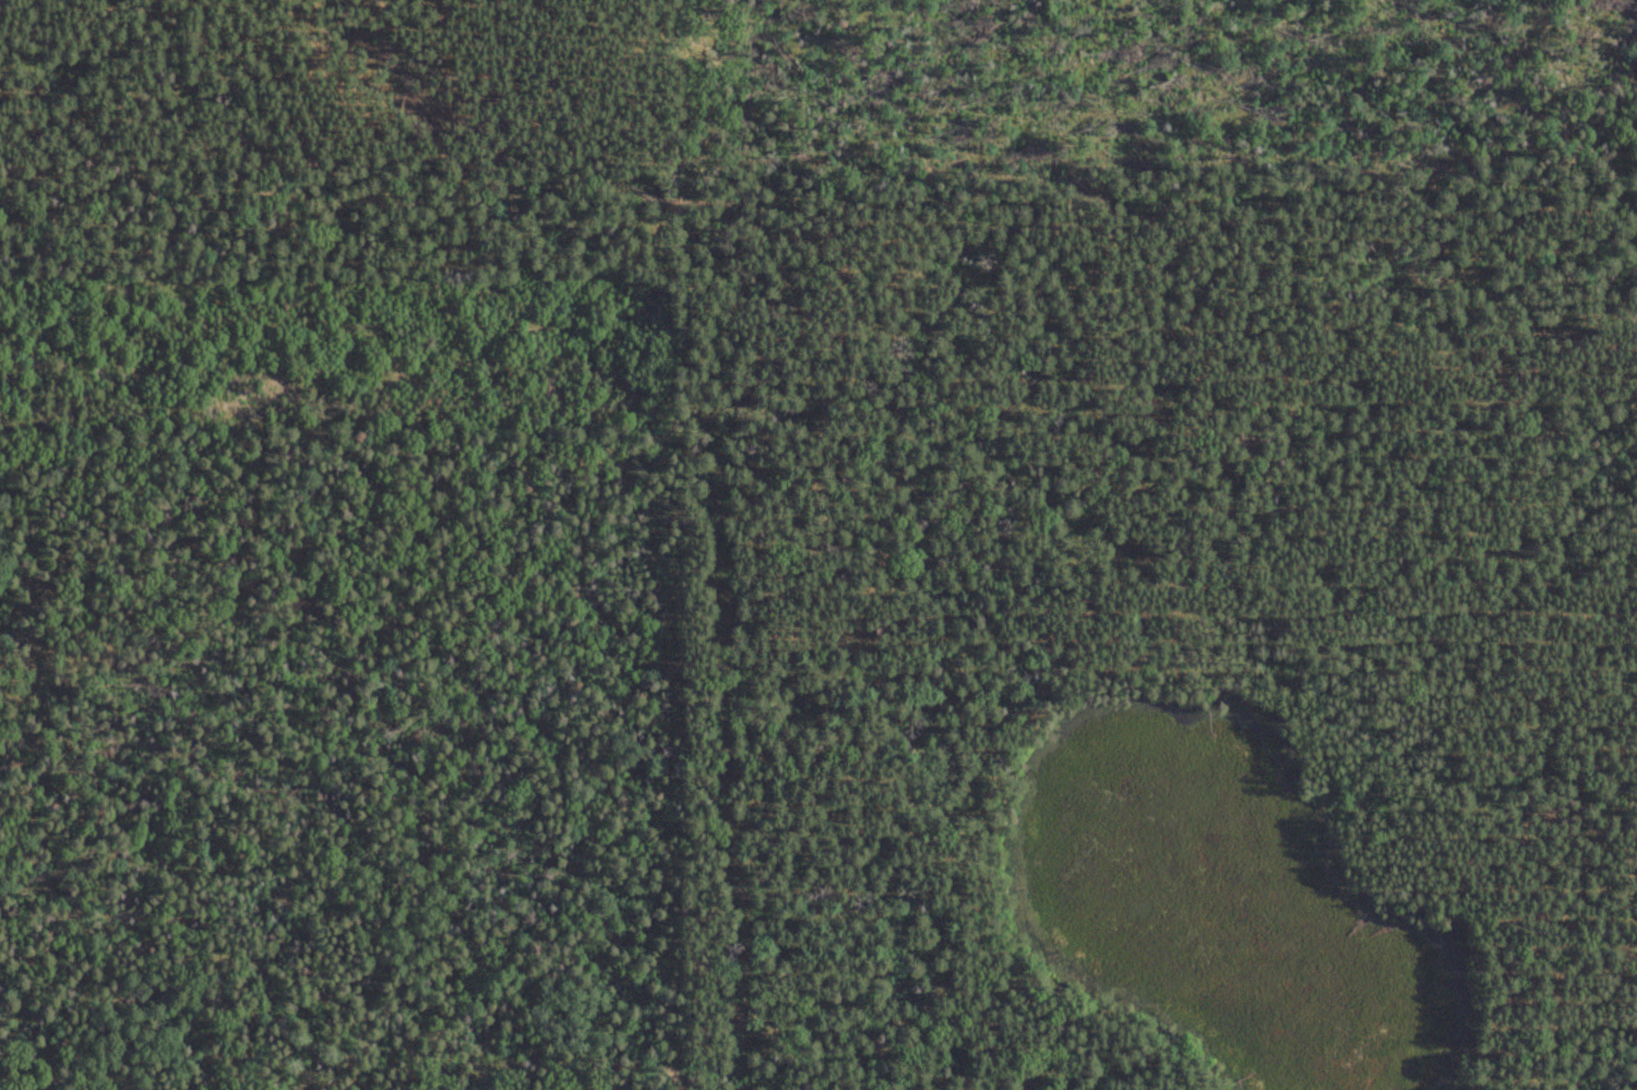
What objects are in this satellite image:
road: (374, 25)
road: (794, 148)

